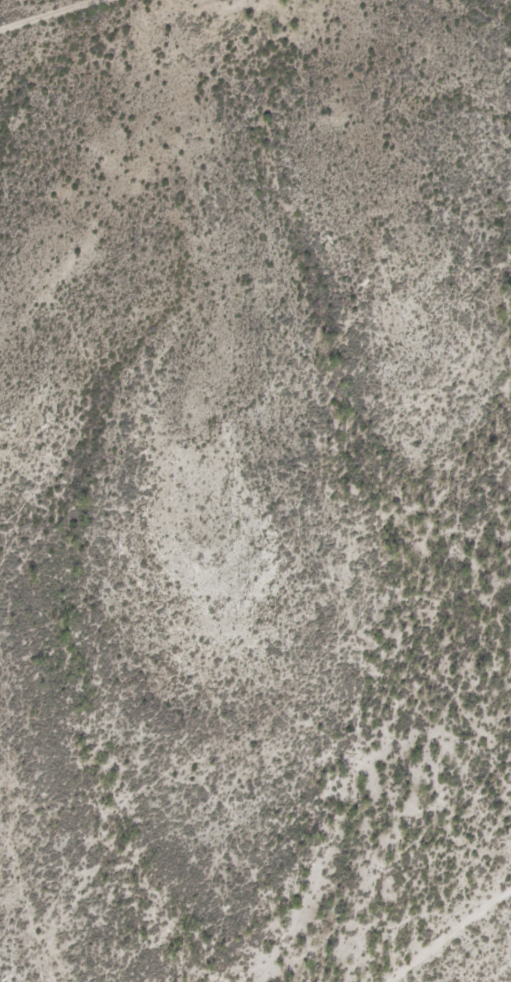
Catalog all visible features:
road: (59, 12)

